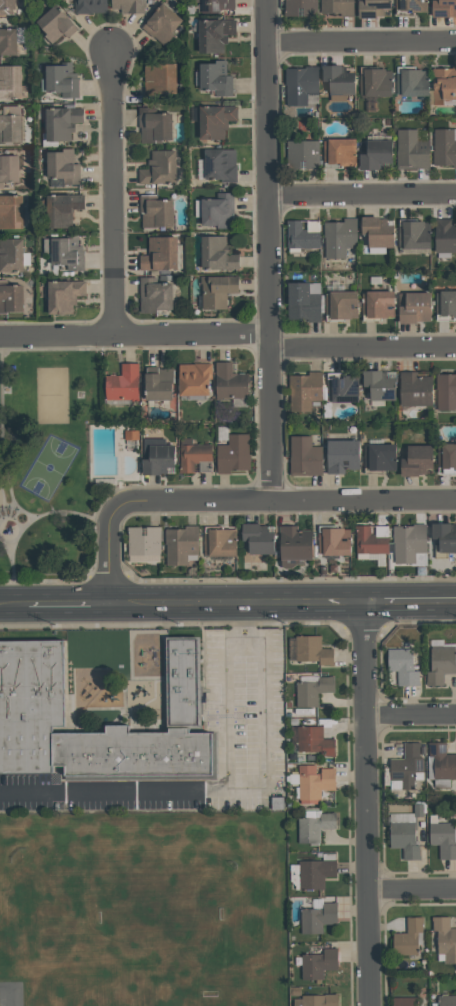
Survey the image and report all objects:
building: (215, 5)
building: (411, 5)
building: (7, 6)
building: (89, 6)
building: (127, 6)
building: (338, 7)
building: (372, 7)
building: (301, 8)
building: (444, 8)
building: (56, 23)
building: (162, 23)
building: (214, 34)
building: (7, 40)
road: (361, 41)
building: (215, 77)
building: (160, 78)
building: (61, 79)
building: (336, 79)
building: (10, 81)
building: (375, 82)
building: (412, 82)
building: (301, 84)
building: (444, 84)
building: (215, 120)
building: (61, 122)
building: (10, 123)
building: (153, 124)
building: (444, 147)
building: (410, 149)
building: (339, 152)
building: (303, 154)
building: (376, 155)
building: (220, 164)
building: (62, 166)
building: (8, 168)
building: (159, 168)
road: (361, 194)
road: (111, 195)
building: (62, 209)
building: (218, 210)
building: (11, 211)
building: (155, 211)
building: (377, 231)
building: (414, 234)
building: (444, 235)
building: (301, 236)
building: (339, 237)
road: (266, 251)
building: (67, 253)
building: (217, 253)
building: (160, 254)
building: (11, 255)
building: (217, 289)
building: (63, 295)
building: (154, 295)
building: (11, 296)
building: (303, 302)
building: (341, 303)
building: (378, 303)
building: (445, 303)
building: (414, 307)
road: (133, 335)
road: (361, 348)
building: (194, 378)
building: (230, 382)
building: (122, 383)
building: (158, 384)
building: (379, 384)
park: (0, 386)
building: (343, 388)
building: (414, 389)
building: (304, 391)
building: (446, 391)
building: (233, 453)
building: (156, 455)
building: (341, 455)
building: (446, 455)
building: (193, 456)
building: (304, 456)
building: (379, 457)
building: (416, 460)
park: (50, 467)
park: (45, 469)
road: (10, 485)
road: (4, 499)
road: (362, 502)
road: (191, 506)
road: (22, 528)
building: (444, 536)
building: (258, 538)
building: (144, 540)
building: (333, 541)
building: (369, 541)
building: (220, 542)
building: (408, 542)
building: (294, 543)
building: (180, 544)
road: (96, 546)
road: (114, 559)
road: (13, 568)
road: (411, 606)
road: (241, 608)
road: (14, 609)
road: (72, 609)
building: (312, 650)
building: (440, 663)
building: (402, 666)
building: (30, 683)
building: (312, 690)
road: (227, 708)
road: (412, 716)
building: (313, 741)
building: (442, 761)
building: (406, 764)
building: (313, 783)
road: (265, 788)
road: (33, 792)
road: (369, 806)
building: (314, 827)
building: (403, 839)
building: (443, 839)
building: (314, 873)
road: (413, 889)
building: (317, 918)
building: (407, 937)
building: (445, 938)
building: (318, 963)
building: (316, 1000)
building: (447, 1000)
building: (403, 1002)

